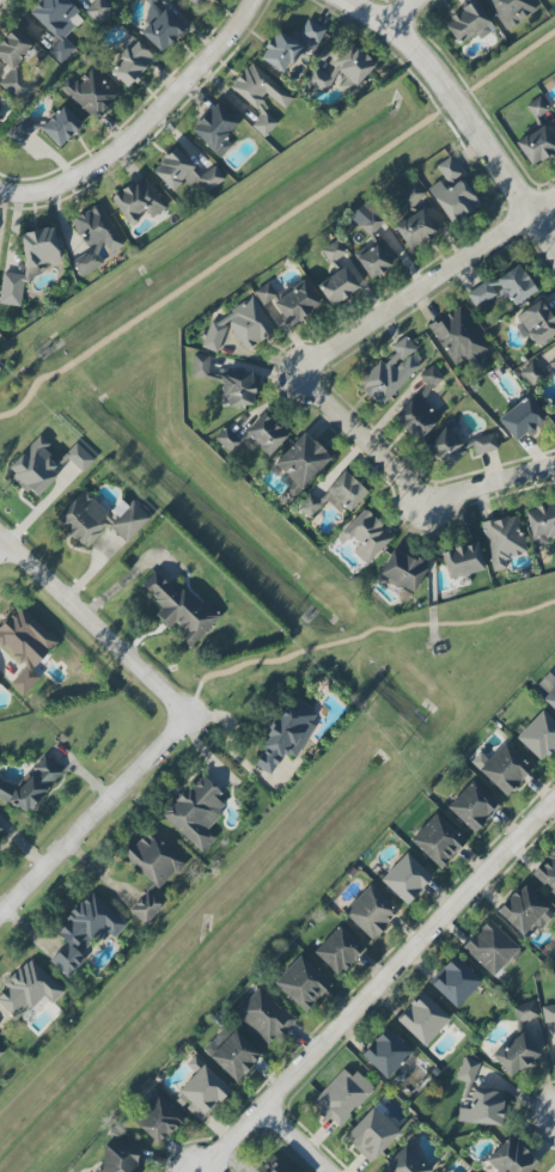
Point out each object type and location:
building: (150, 1)
road: (2, 2)
building: (197, 2)
building: (98, 11)
building: (511, 11)
road: (391, 19)
building: (468, 23)
building: (57, 24)
building: (161, 30)
building: (291, 45)
building: (130, 62)
building: (347, 66)
building: (17, 67)
building: (316, 81)
building: (89, 93)
building: (260, 96)
road: (455, 103)
building: (554, 105)
building: (536, 108)
building: (0, 124)
building: (60, 126)
building: (214, 129)
building: (20, 130)
road: (161, 142)
building: (536, 145)
building: (447, 171)
building: (184, 172)
building: (411, 194)
building: (453, 200)
building: (138, 201)
building: (96, 228)
building: (414, 228)
building: (38, 248)
building: (373, 248)
building: (333, 251)
building: (86, 262)
road: (426, 280)
building: (337, 285)
building: (504, 287)
building: (11, 288)
building: (295, 303)
building: (535, 323)
building: (239, 326)
building: (459, 340)
building: (550, 358)
building: (200, 366)
building: (389, 373)
building: (431, 378)
building: (237, 390)
building: (413, 414)
building: (520, 417)
road: (355, 442)
building: (457, 445)
building: (78, 457)
building: (300, 463)
building: (33, 468)
road: (492, 484)
building: (335, 496)
building: (99, 519)
building: (541, 524)
building: (365, 536)
building: (504, 539)
road: (1, 545)
building: (462, 560)
building: (401, 570)
building: (179, 609)
road: (87, 627)
building: (25, 637)
building: (24, 679)
building: (550, 698)
building: (286, 734)
building: (538, 735)
building: (504, 769)
building: (31, 786)
building: (472, 806)
road: (89, 811)
building: (195, 812)
building: (0, 830)
building: (437, 841)
building: (153, 859)
building: (547, 872)
building: (405, 878)
building: (145, 909)
building: (524, 910)
building: (370, 912)
building: (84, 932)
building: (490, 948)
building: (337, 950)
building: (455, 982)
building: (301, 983)
road: (374, 984)
building: (28, 988)
building: (524, 1011)
building: (548, 1012)
building: (264, 1017)
building: (422, 1019)
building: (1, 1051)
building: (385, 1054)
building: (514, 1054)
building: (233, 1056)
building: (466, 1069)
building: (201, 1093)
building: (341, 1097)
building: (481, 1106)
road: (553, 1115)
building: (158, 1118)
building: (371, 1135)
road: (293, 1140)
building: (120, 1158)
building: (511, 1158)
building: (404, 1162)
building: (276, 1167)

